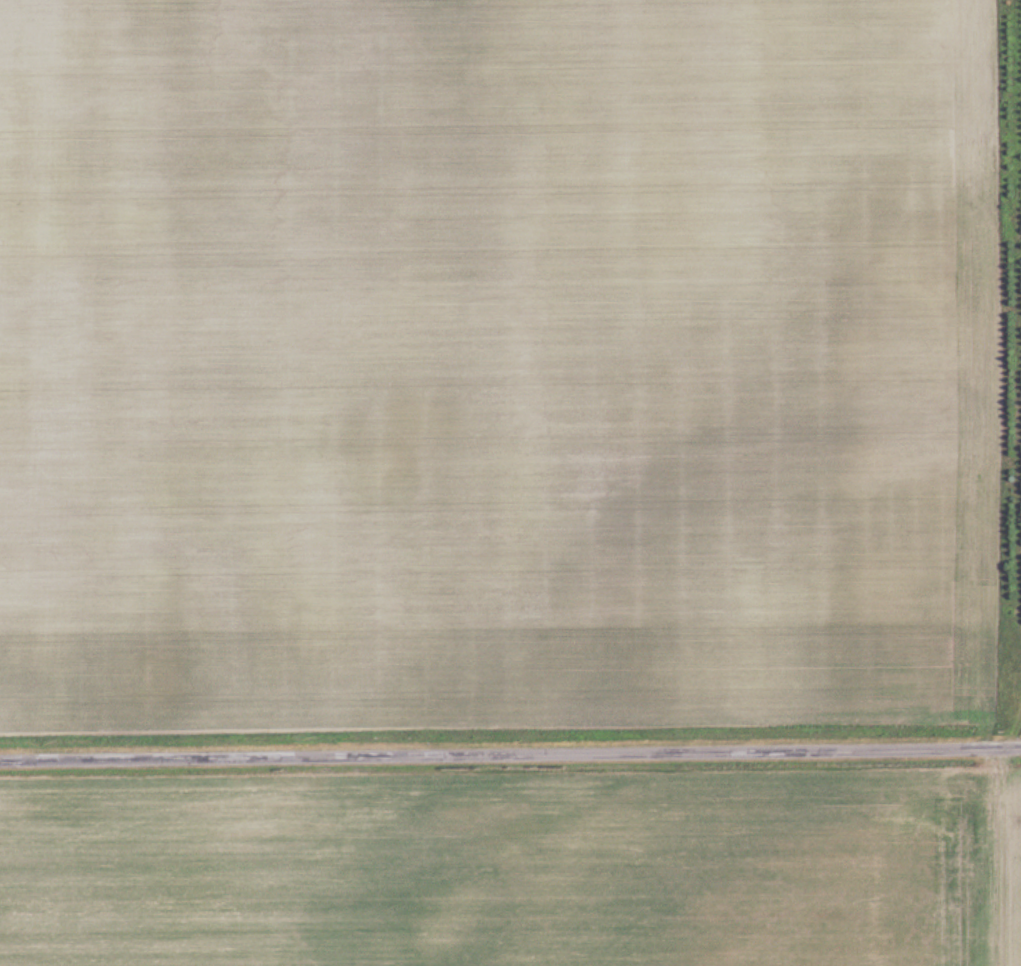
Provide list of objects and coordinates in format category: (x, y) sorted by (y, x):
road: (510, 758)

